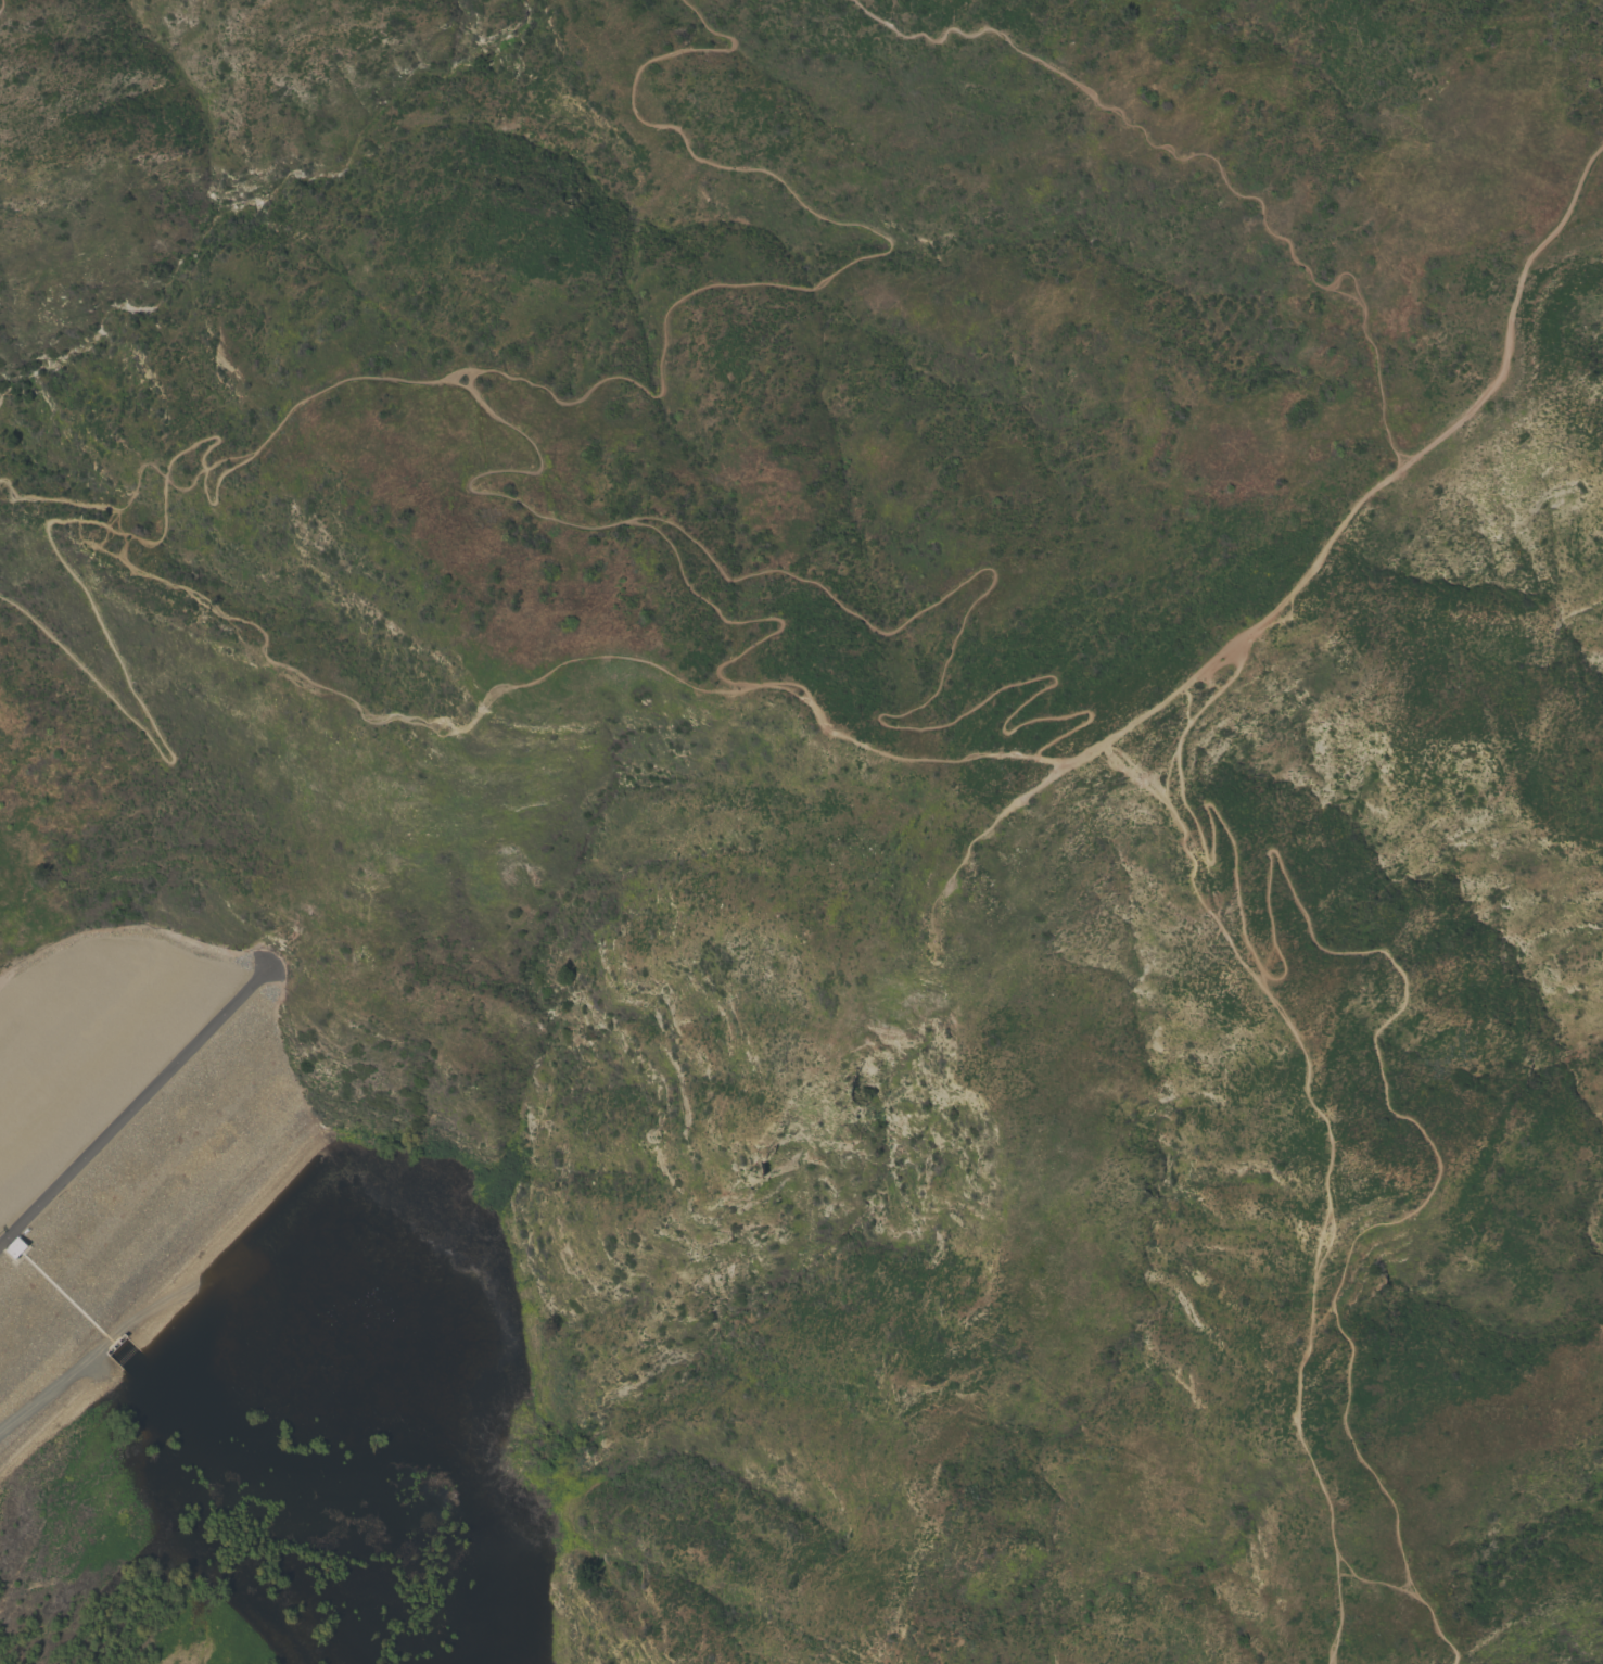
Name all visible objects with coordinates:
road: (1, 5)
road: (493, 20)
road: (1203, 155)
road: (259, 192)
road: (870, 256)
road: (485, 474)
road: (135, 492)
road: (1321, 550)
road: (718, 611)
road: (533, 683)
road: (1160, 774)
road: (1201, 860)
road: (131, 1103)
dam: (124, 1139)
road: (1439, 1164)
road: (1325, 1172)
building: (9, 1246)

